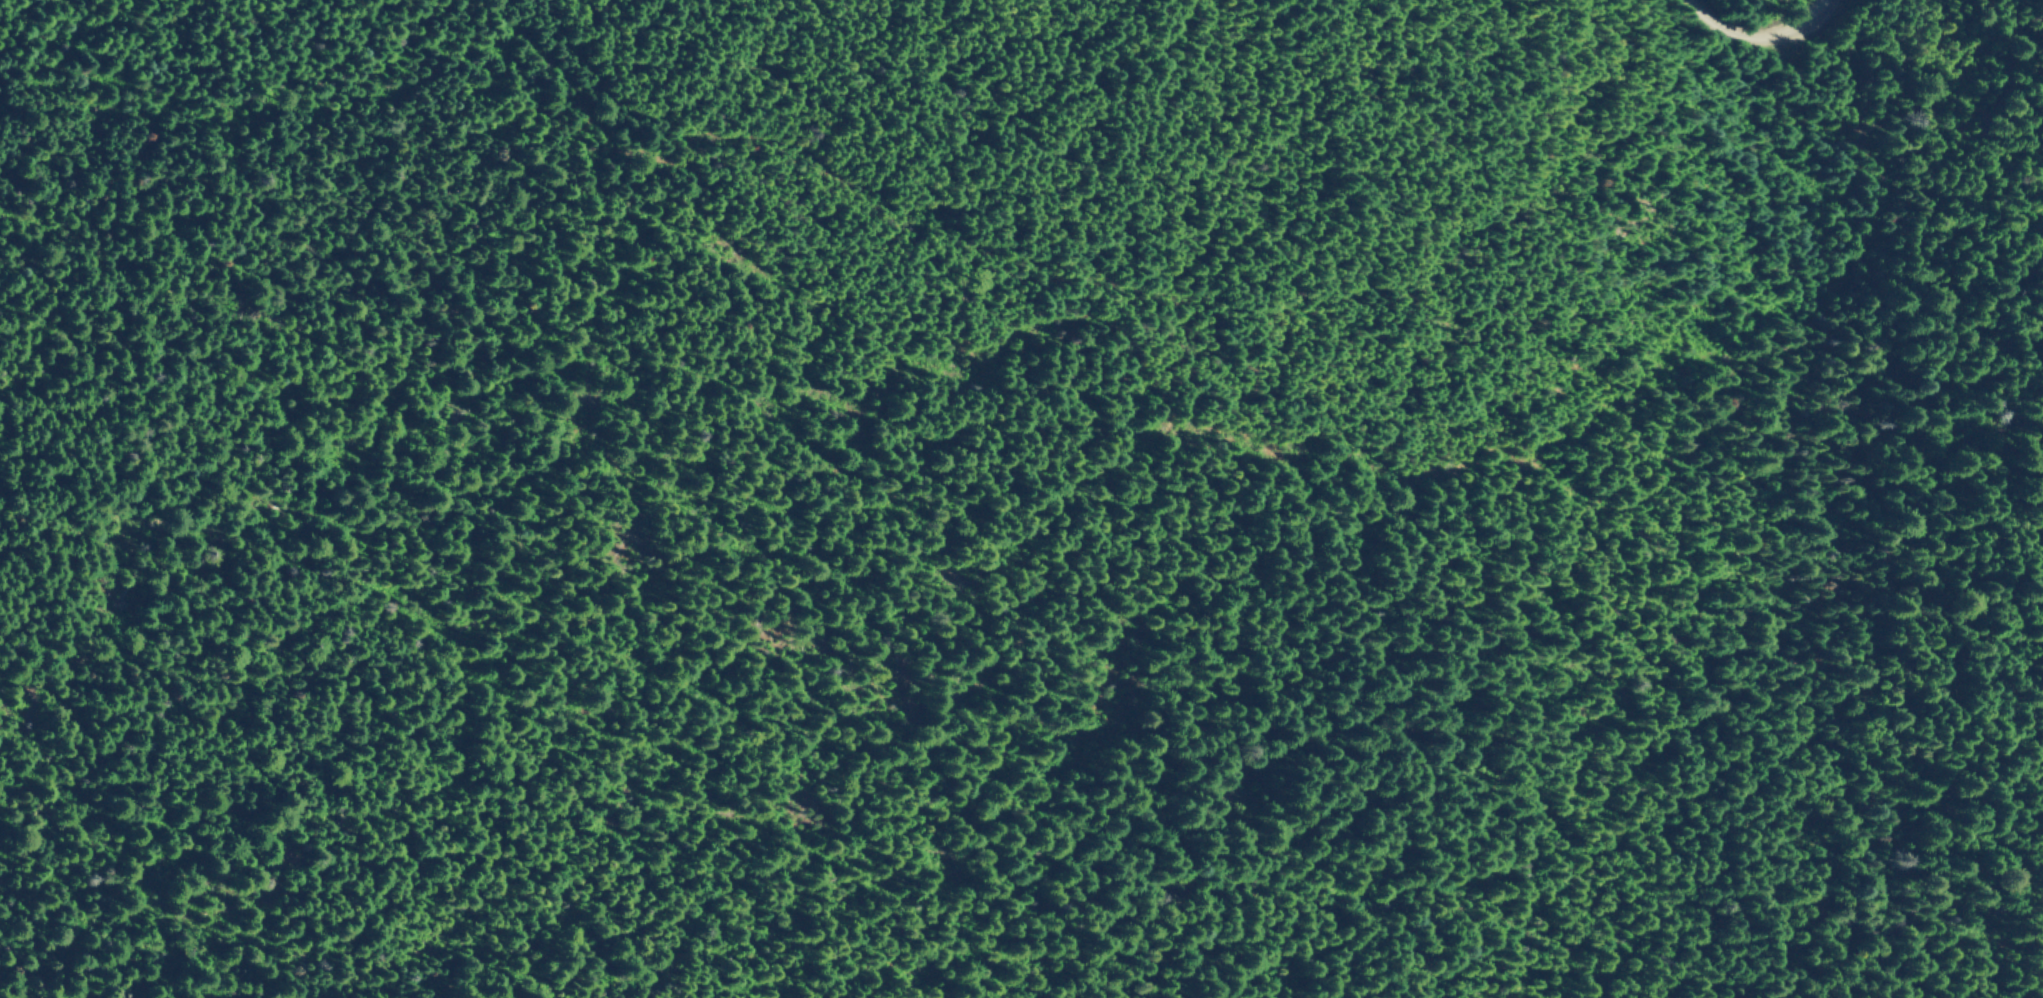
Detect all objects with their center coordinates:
road: (1760, 30)

